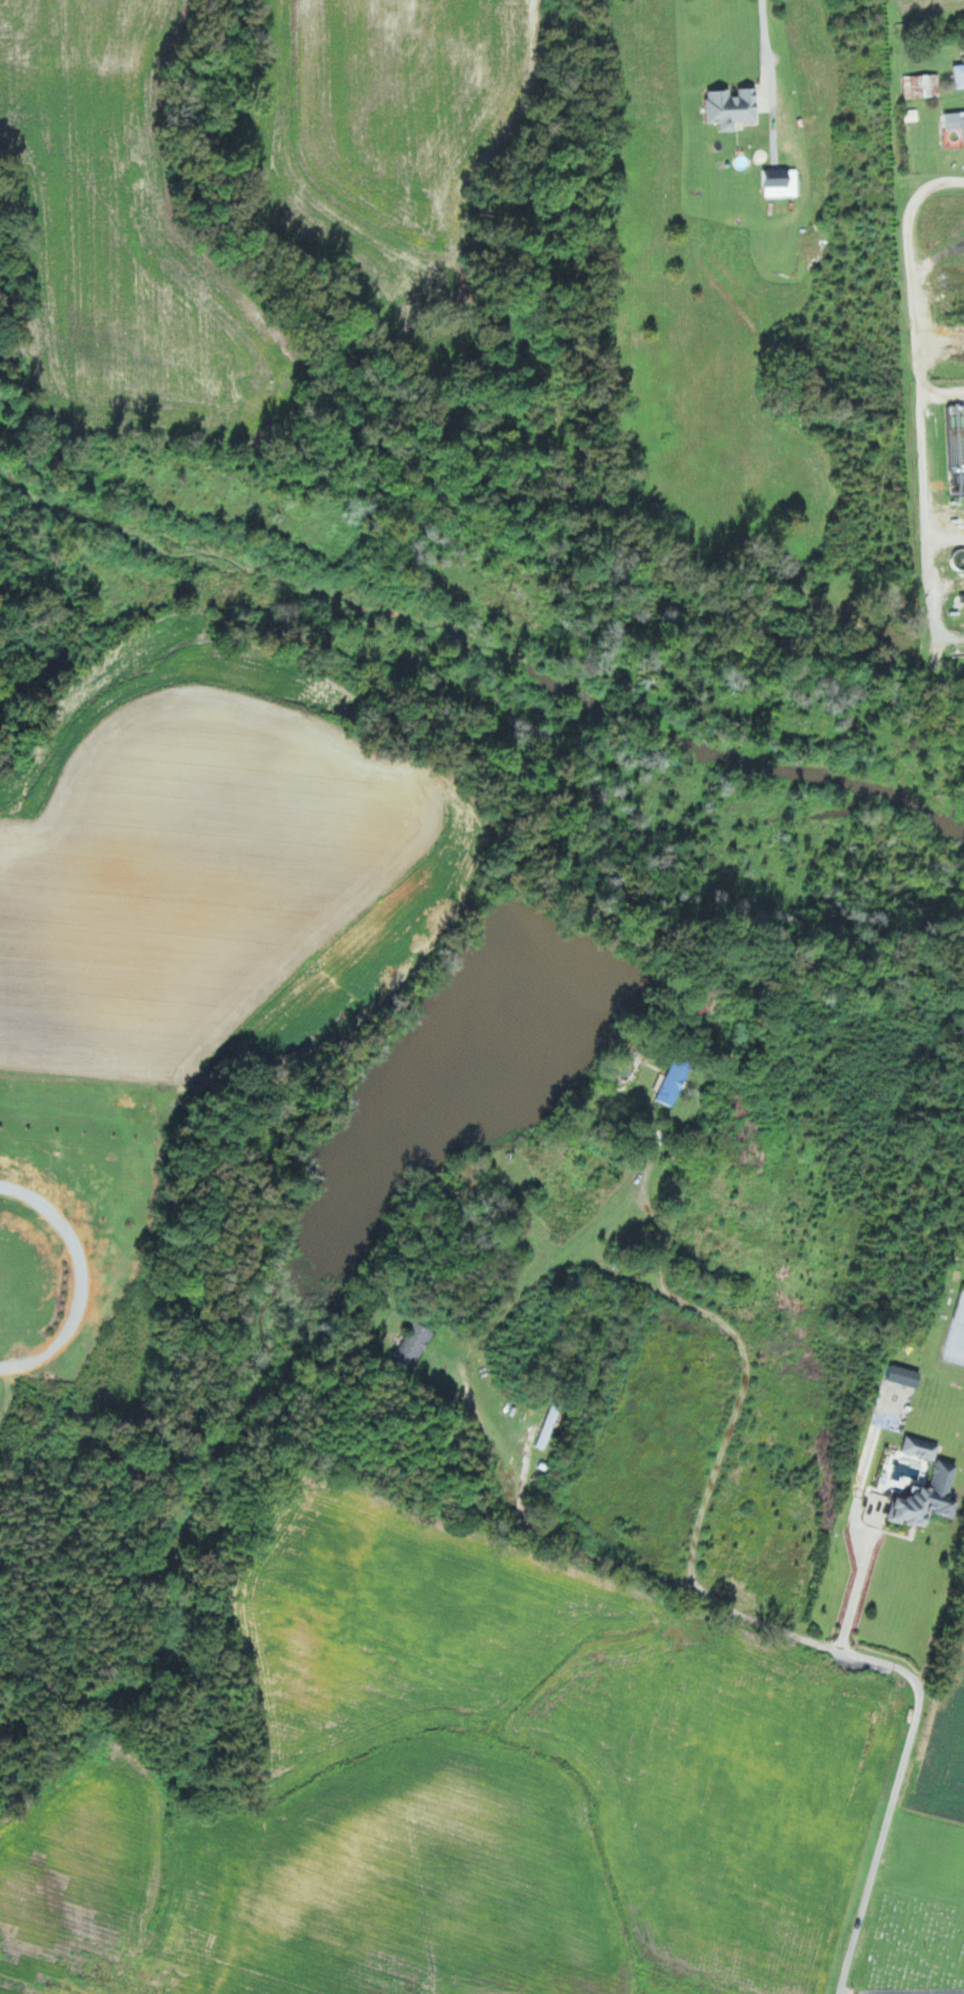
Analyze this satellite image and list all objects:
building: (960, 75)
road: (768, 79)
building: (923, 85)
building: (734, 107)
building: (955, 119)
road: (922, 392)
building: (676, 1081)
building: (536, 1200)
road: (76, 1278)
building: (416, 1343)
building: (550, 1423)
building: (923, 1447)
building: (916, 1506)
road: (860, 1583)
road: (744, 1616)

